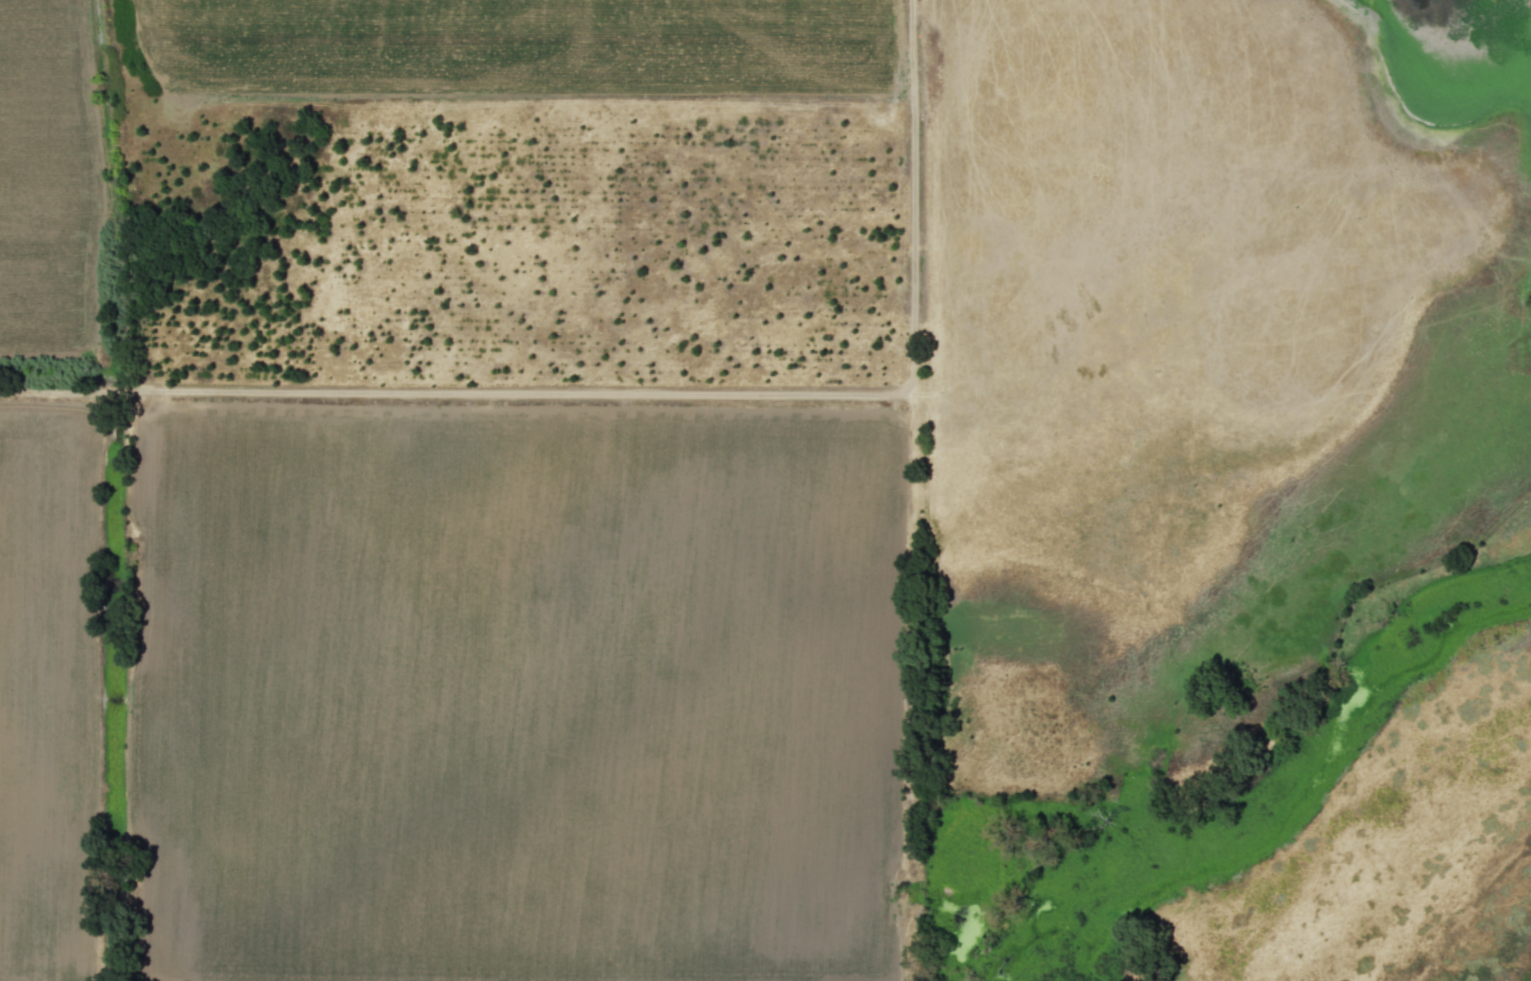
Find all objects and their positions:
crop: (690, 459)

